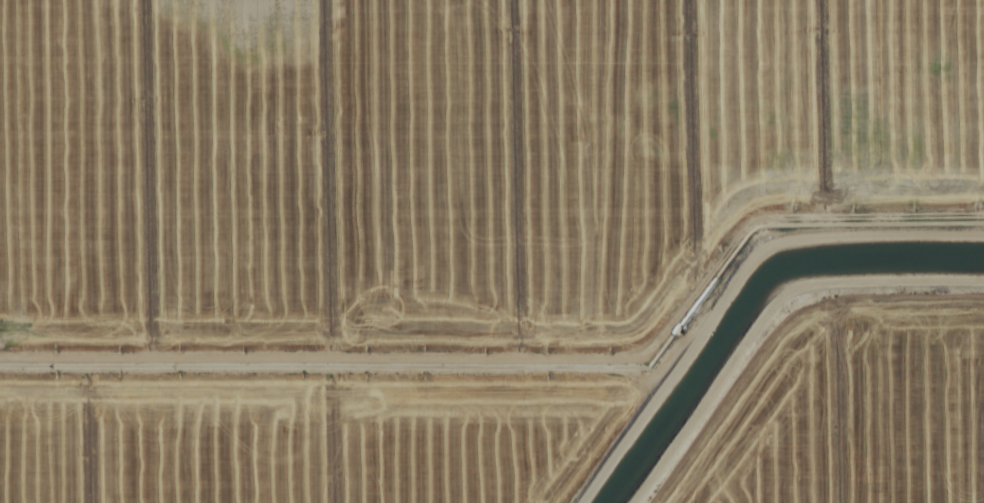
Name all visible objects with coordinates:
crop: (492, 251)

